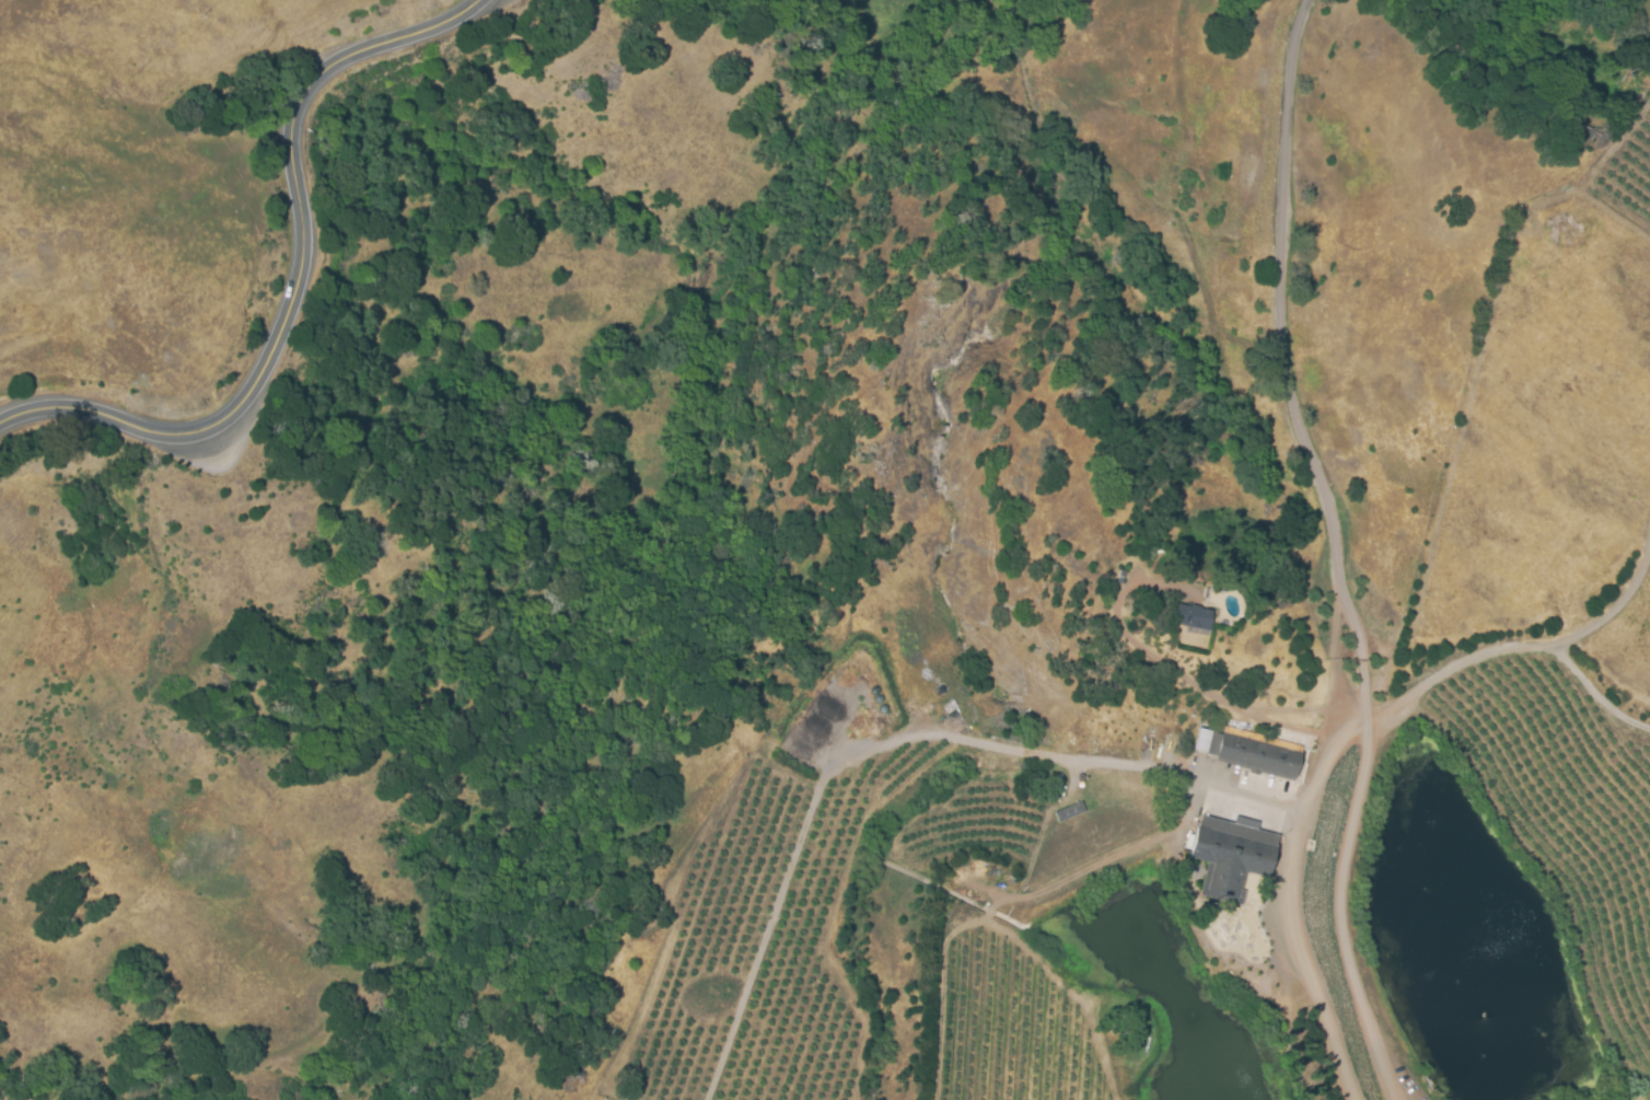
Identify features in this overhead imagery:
road: (316, 290)
road: (1329, 553)
building: (1197, 617)
road: (1114, 763)
building: (1232, 854)
road: (1282, 901)

